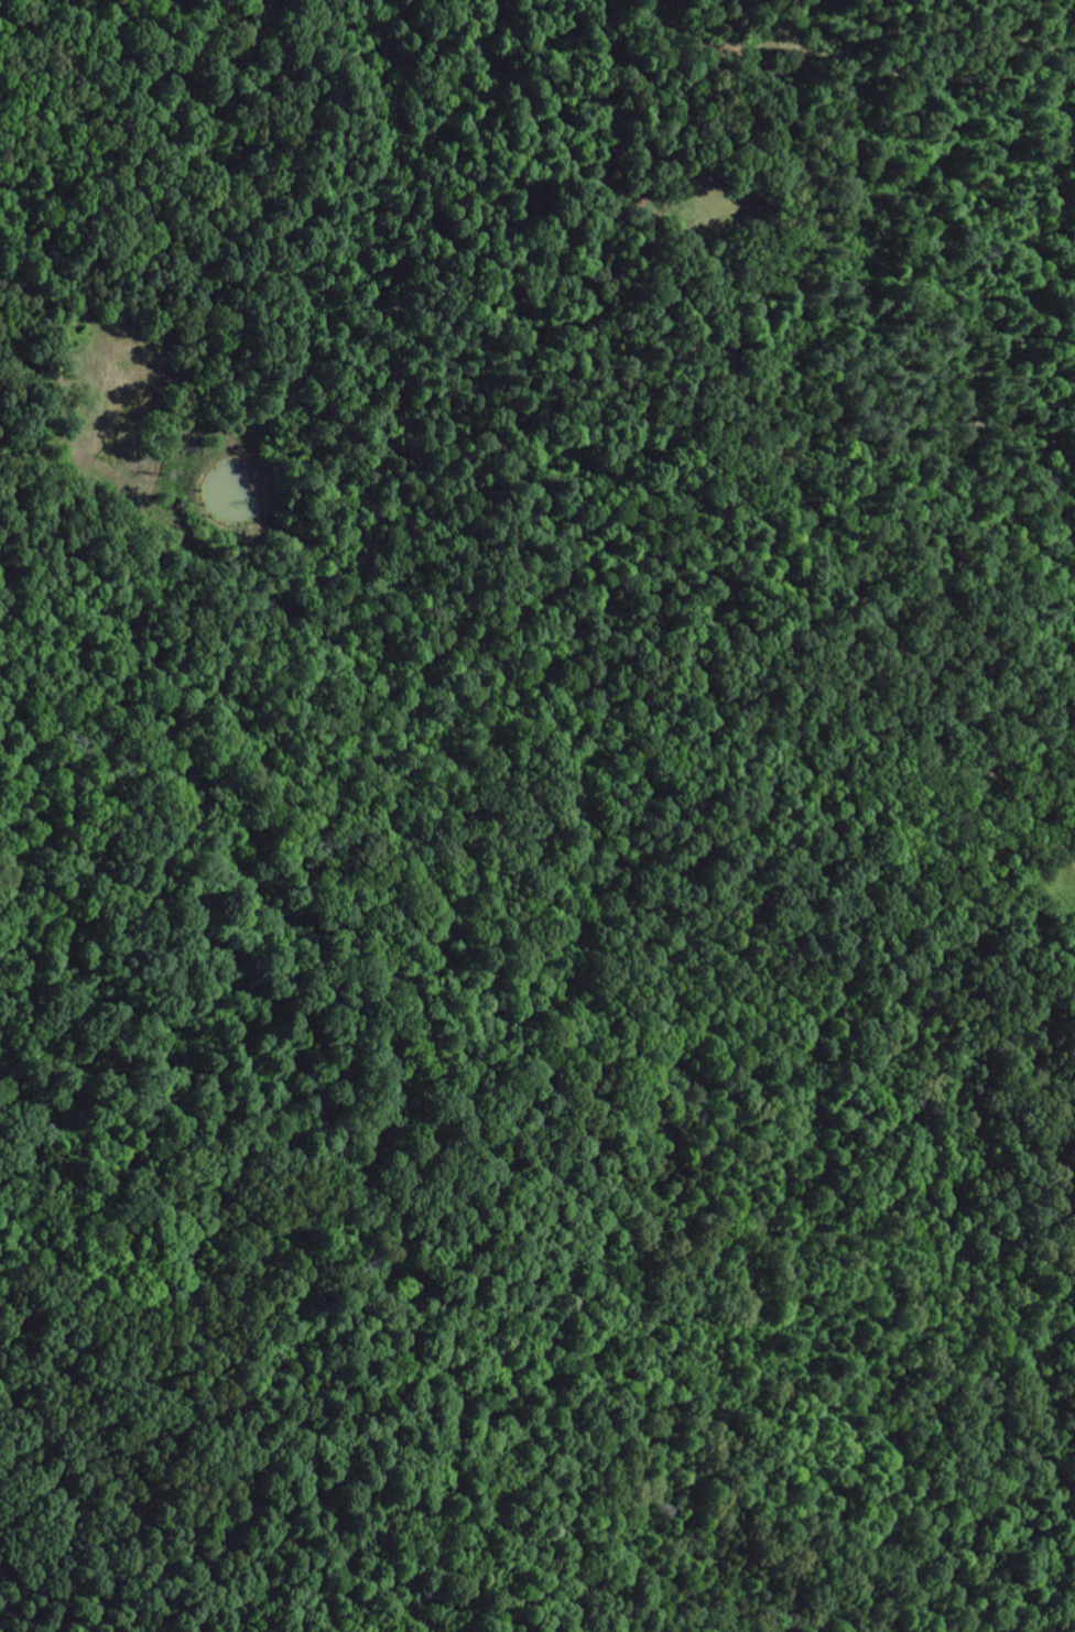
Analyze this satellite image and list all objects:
road: (32, 1345)

